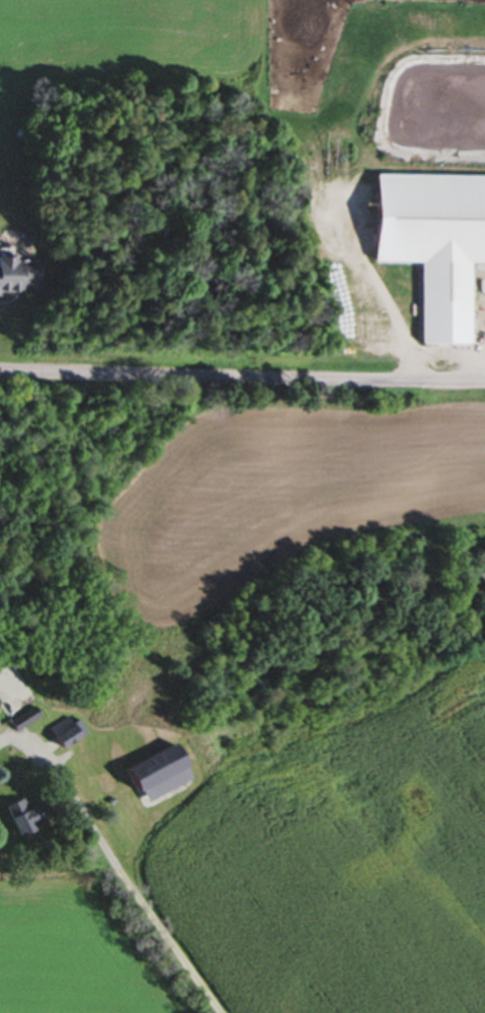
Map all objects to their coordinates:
building: (433, 244)
building: (17, 275)
road: (479, 367)
road: (242, 381)
building: (481, 576)
building: (28, 716)
building: (63, 732)
building: (156, 775)
building: (21, 816)
road: (134, 894)

